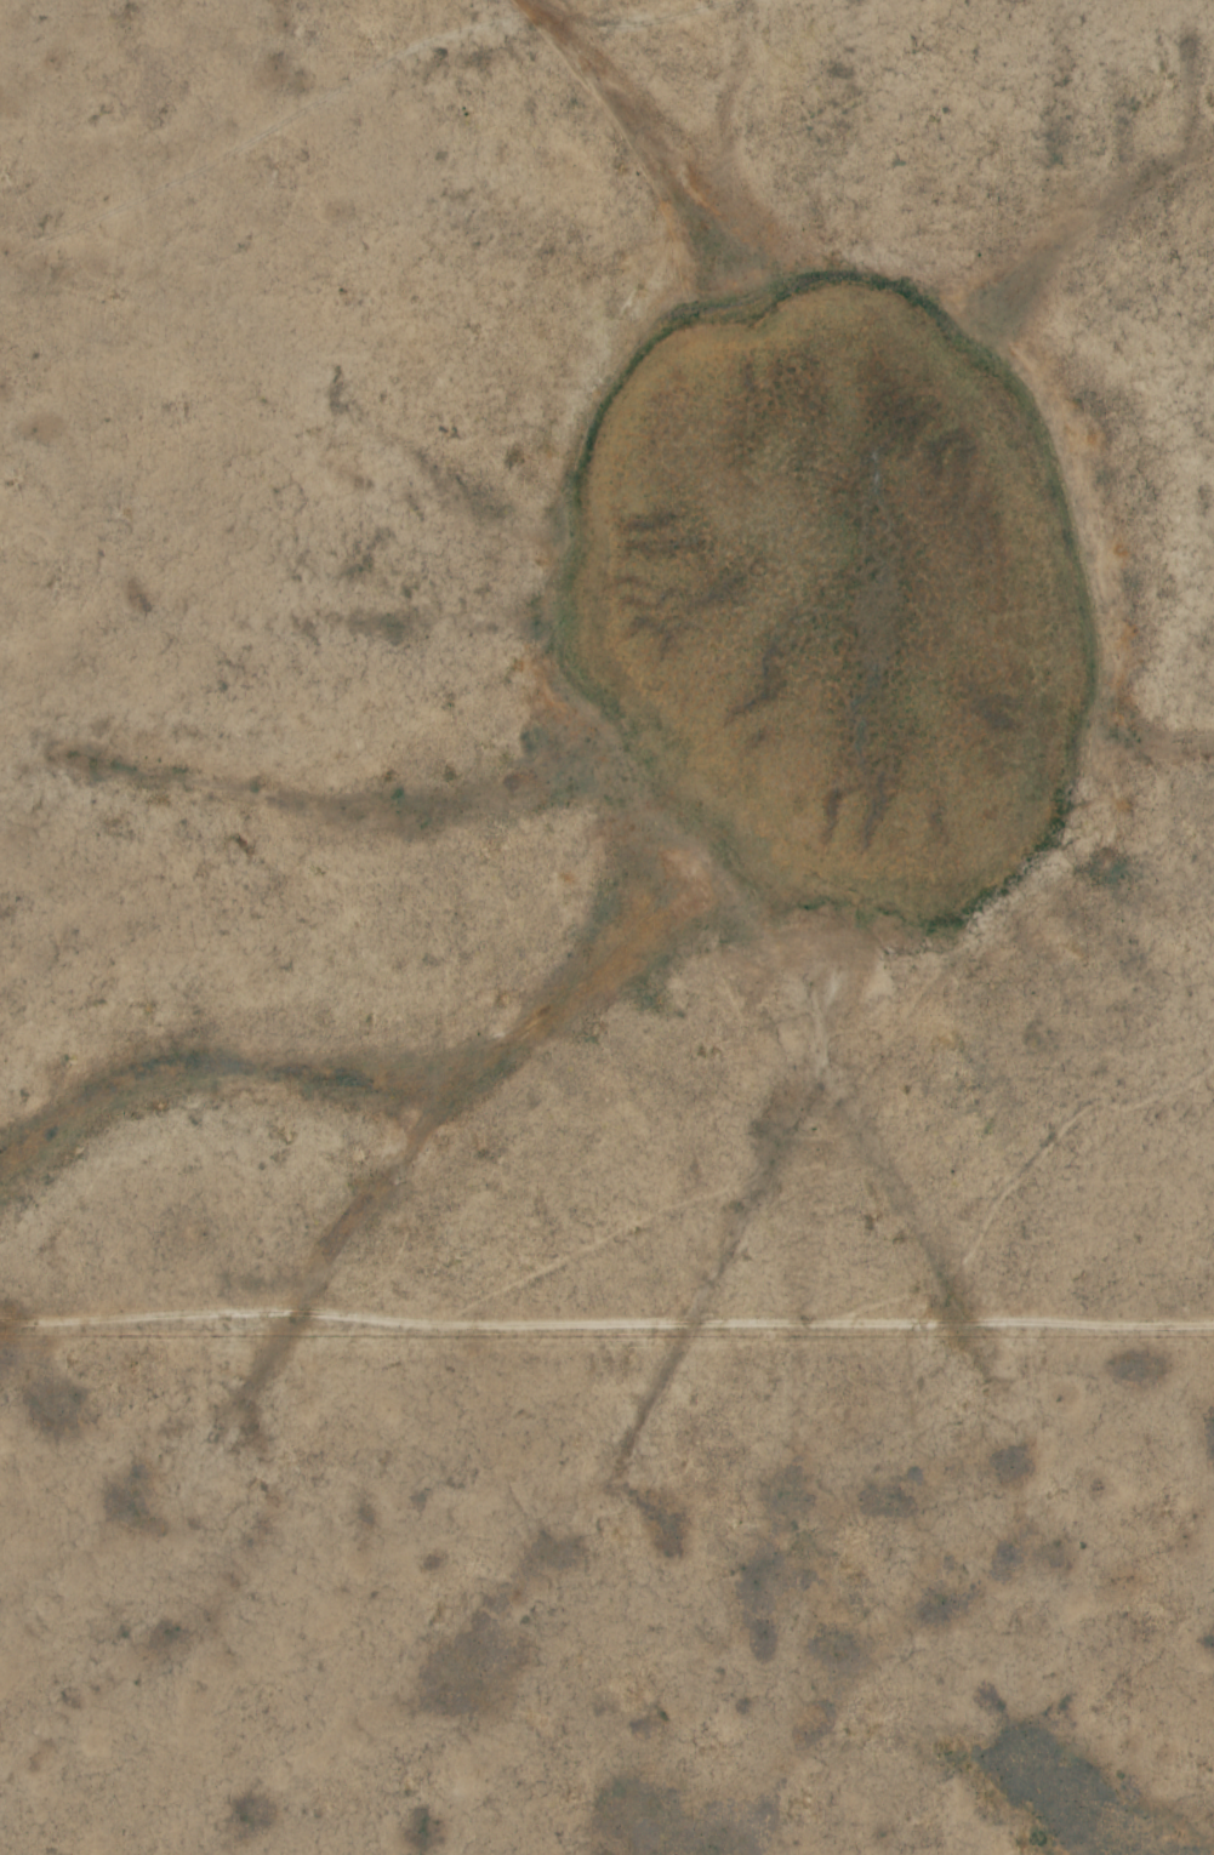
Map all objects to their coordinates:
road: (606, 1265)

